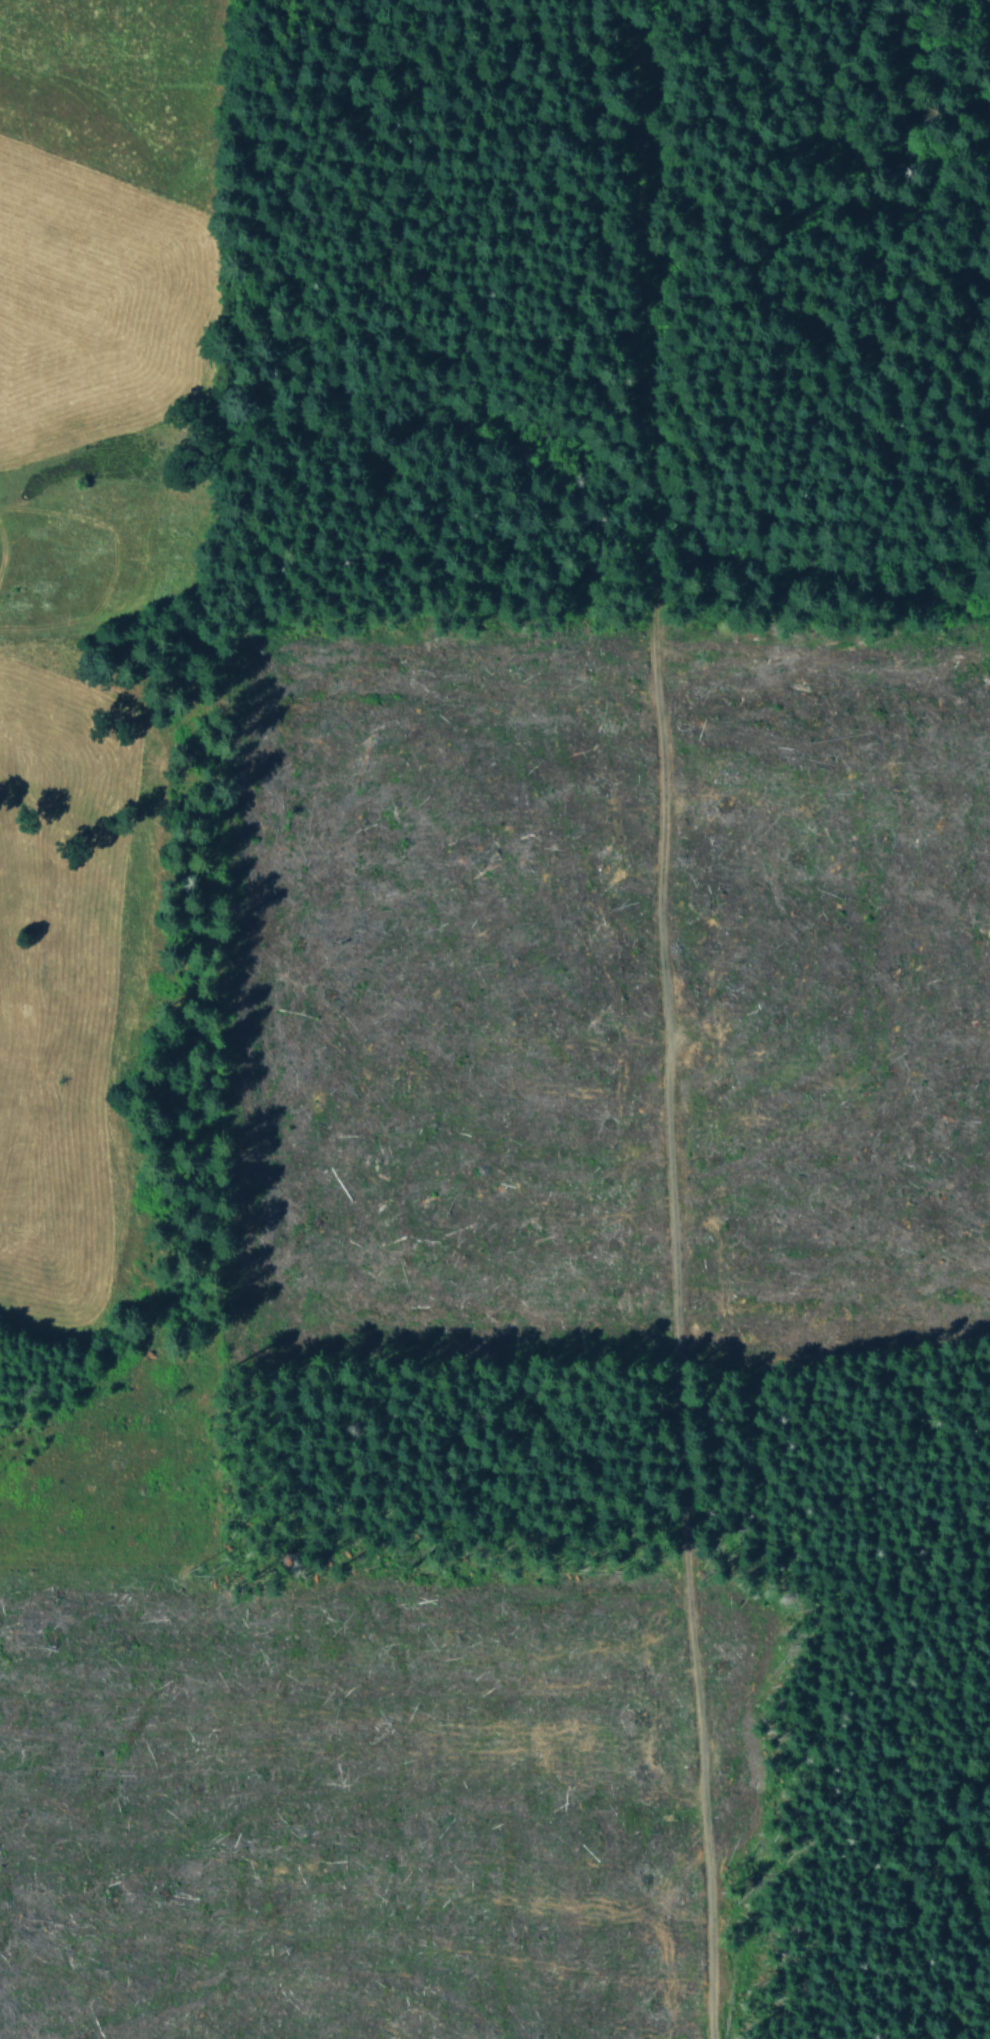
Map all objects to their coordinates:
road: (767, 1268)
road: (844, 1338)
road: (866, 1606)
road: (694, 1691)

